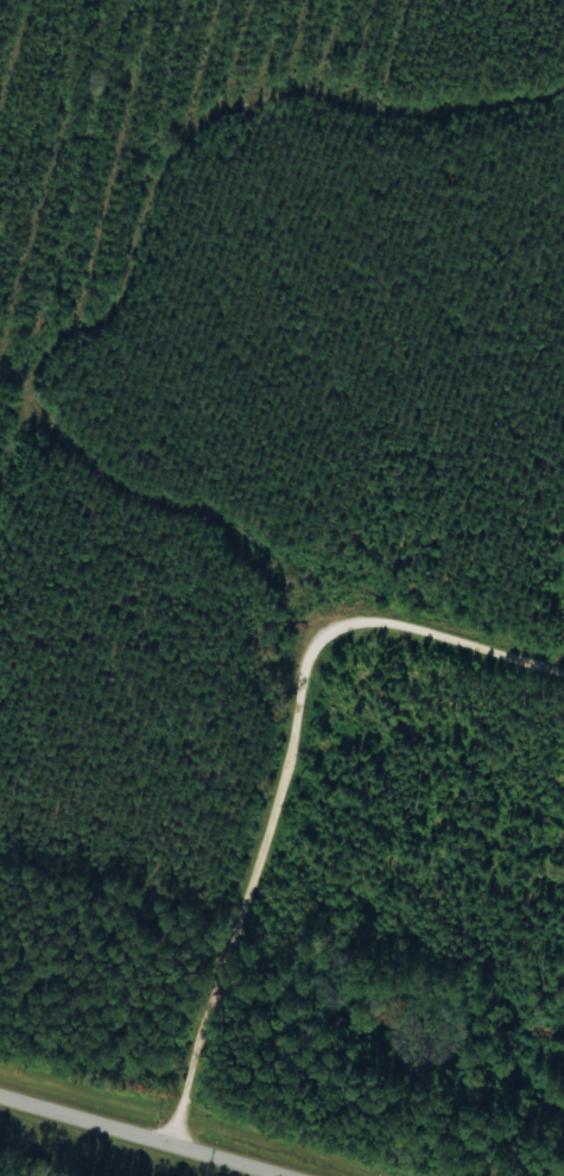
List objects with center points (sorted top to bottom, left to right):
road: (266, 777)
road: (116, 1140)

